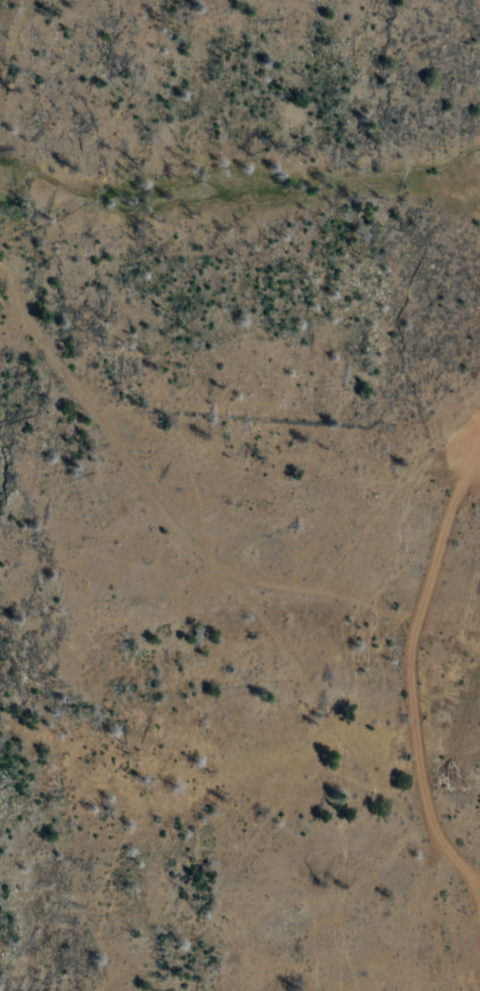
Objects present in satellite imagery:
road: (479, 426)
road: (161, 512)
road: (445, 516)
road: (327, 710)
road: (413, 752)
road: (474, 879)
road: (474, 902)

